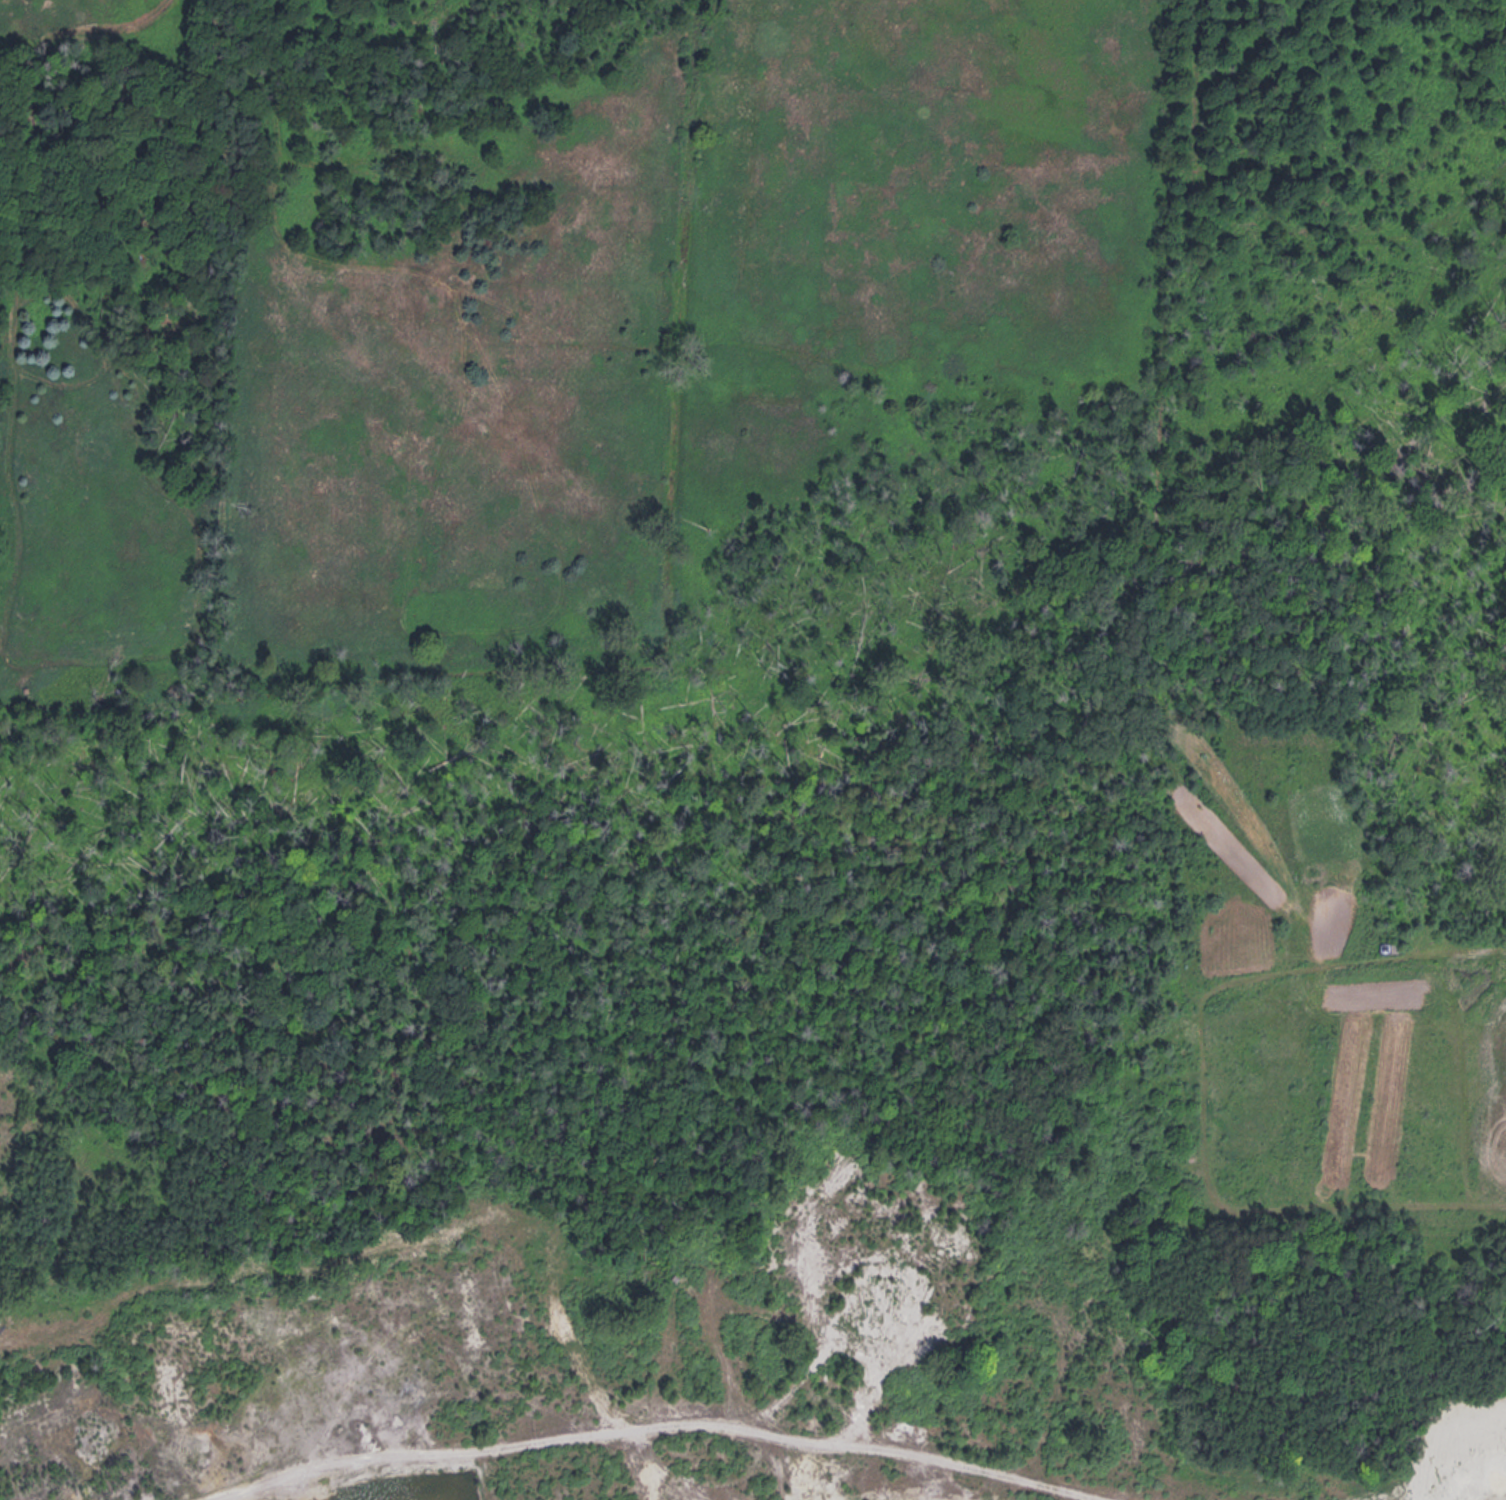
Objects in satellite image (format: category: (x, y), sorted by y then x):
building: (1384, 946)
road: (638, 1425)

